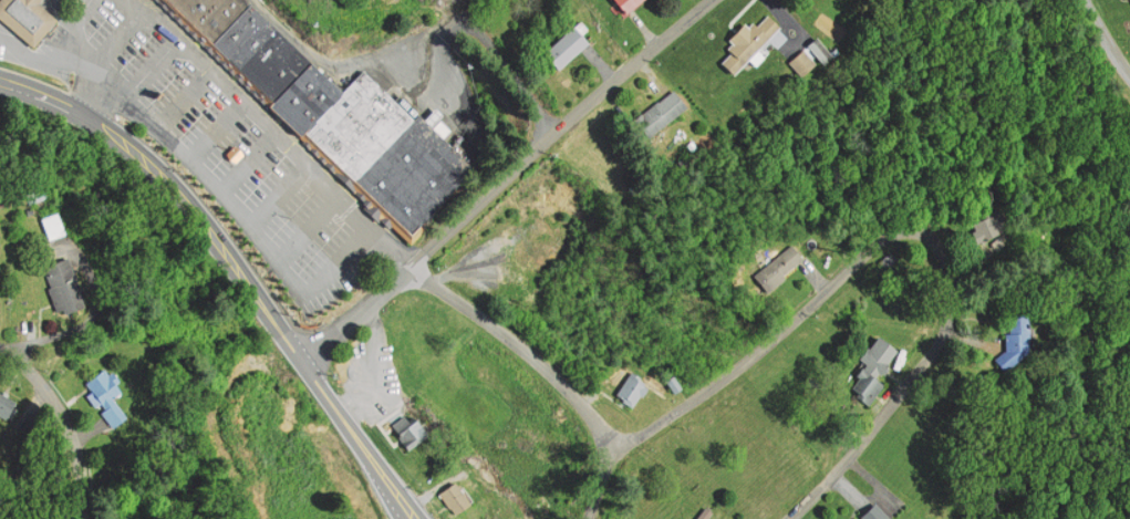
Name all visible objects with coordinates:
building: (625, 3)
building: (205, 12)
building: (30, 18)
road: (1109, 33)
building: (747, 42)
building: (566, 45)
building: (818, 46)
building: (256, 49)
building: (800, 61)
building: (300, 97)
building: (659, 111)
building: (355, 124)
building: (411, 173)
road: (508, 177)
road: (178, 189)
building: (59, 226)
building: (992, 227)
road: (878, 248)
building: (775, 269)
building: (68, 286)
building: (1016, 333)
road: (527, 349)
building: (871, 369)
building: (630, 388)
building: (111, 393)
building: (9, 406)
road: (66, 421)
building: (406, 428)
road: (354, 440)
building: (454, 496)
building: (873, 512)
building: (830, 518)

